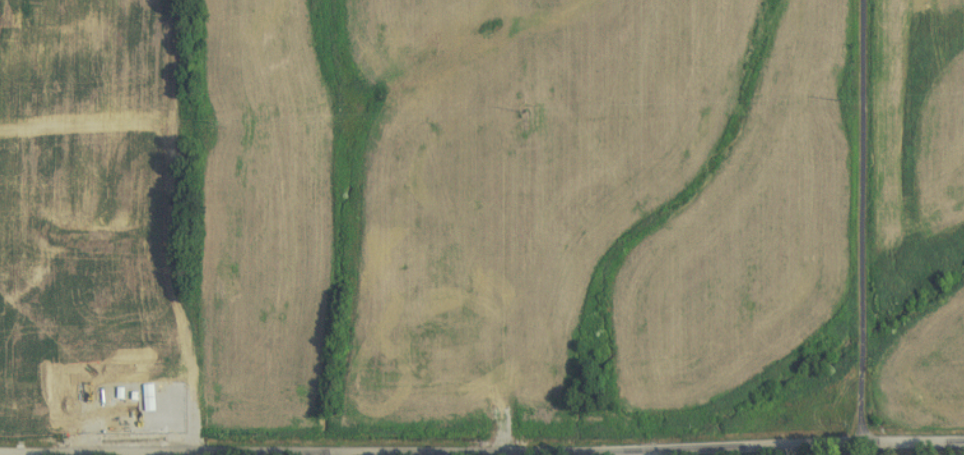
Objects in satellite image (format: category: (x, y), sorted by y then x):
road: (866, 221)
building: (144, 395)
road: (914, 442)
road: (431, 446)

